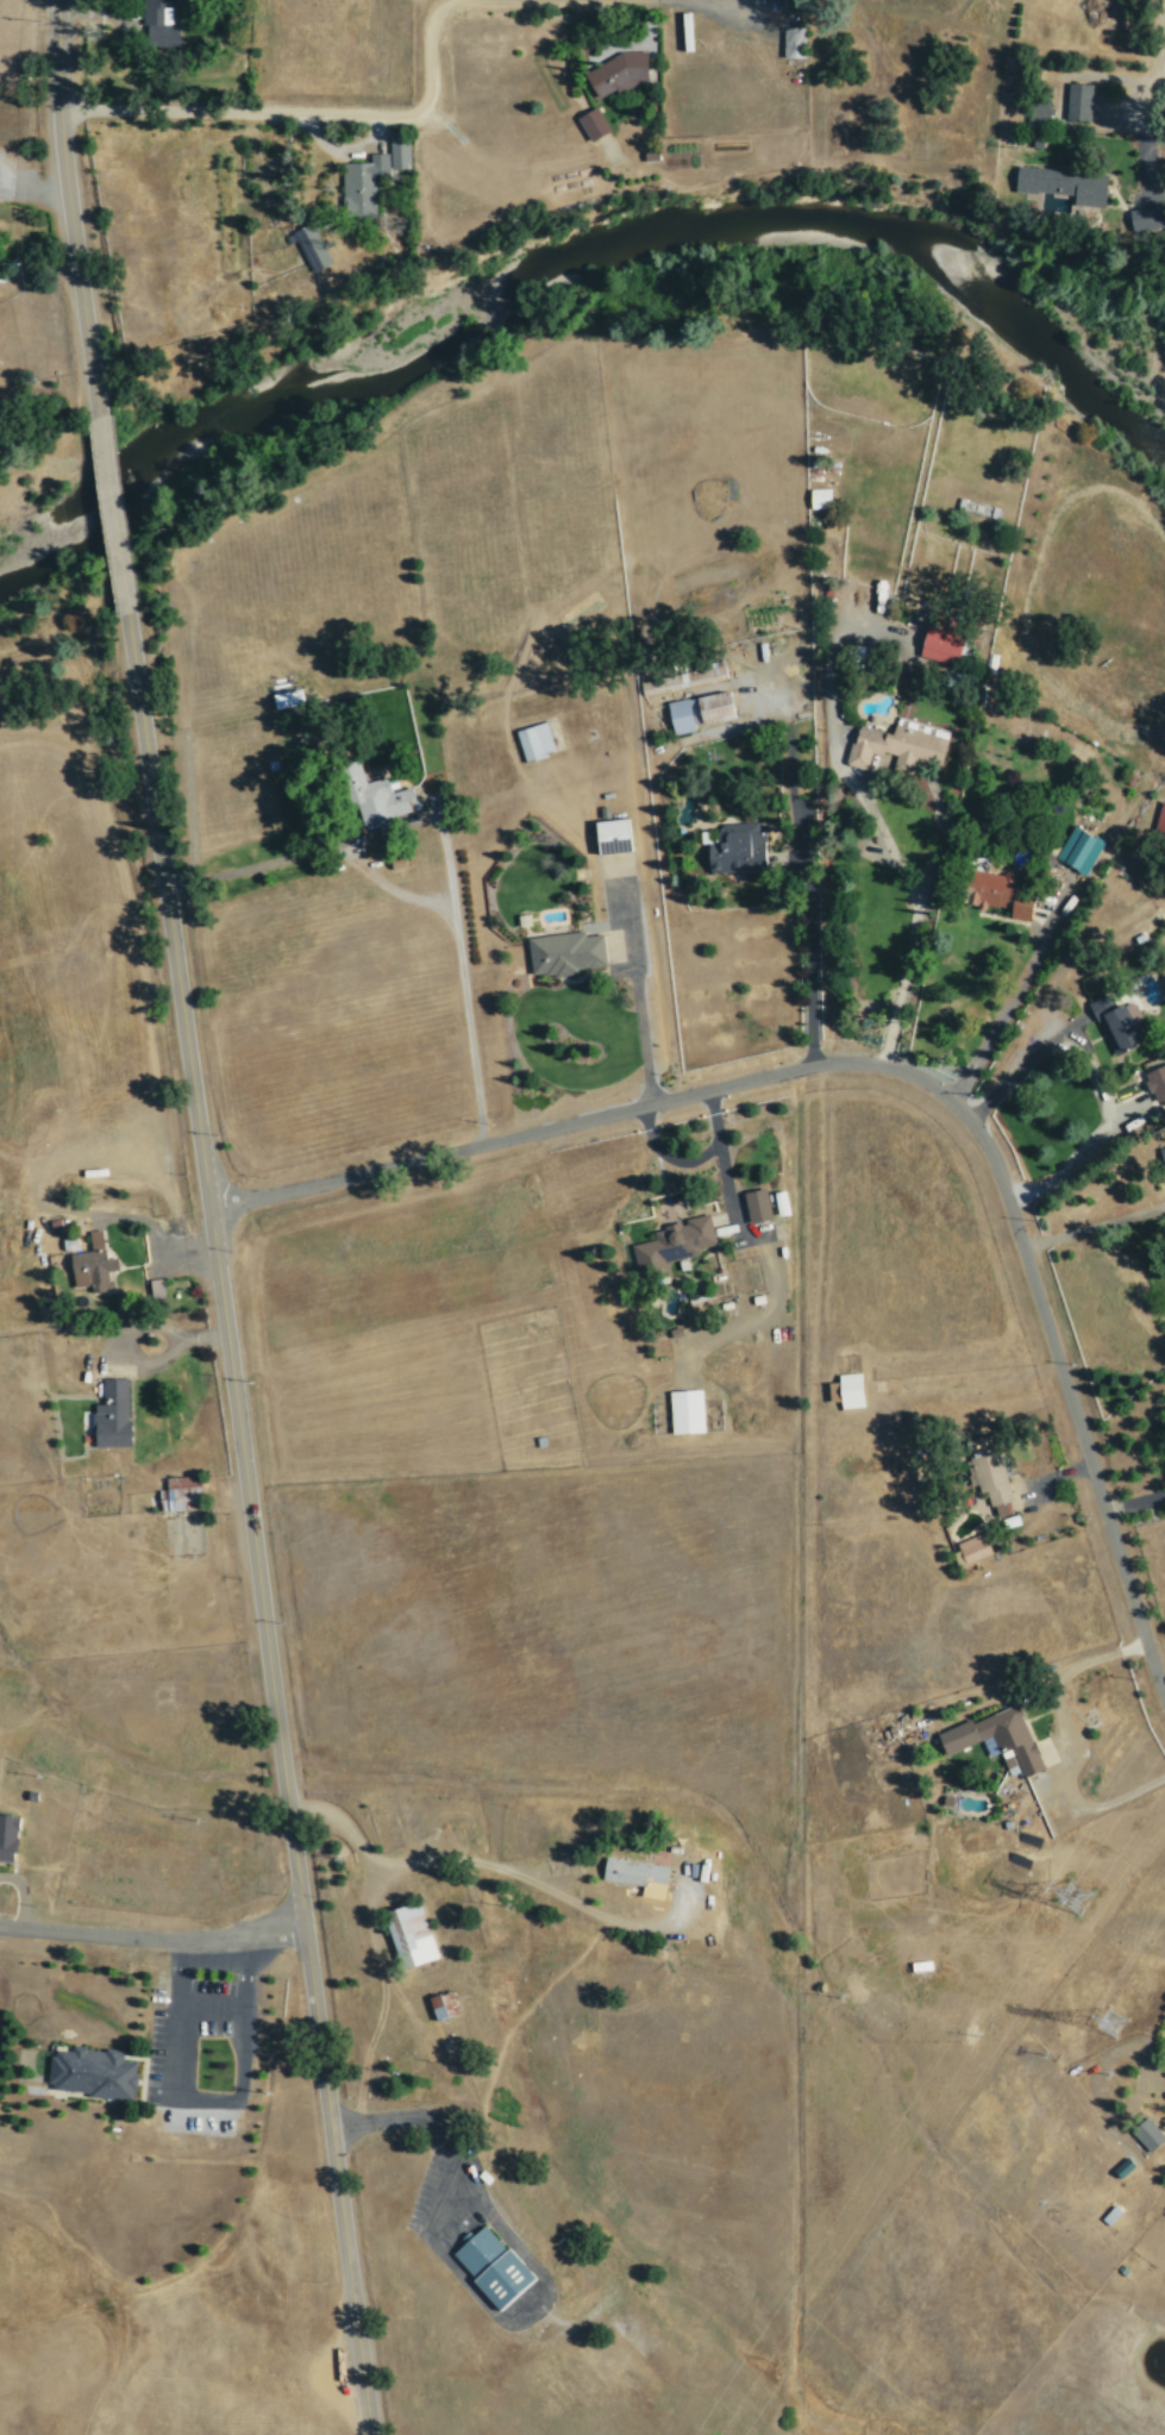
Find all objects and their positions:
building: (158, 24)
building: (793, 42)
building: (618, 74)
building: (1077, 101)
building: (1038, 111)
road: (295, 113)
building: (591, 124)
building: (397, 152)
building: (361, 184)
building: (1063, 184)
road: (67, 207)
building: (311, 248)
river: (541, 268)
river: (1063, 376)
river: (111, 482)
building: (819, 499)
road: (114, 512)
river: (52, 538)
building: (940, 643)
building: (286, 699)
building: (697, 712)
building: (533, 741)
building: (894, 747)
building: (374, 797)
building: (1160, 819)
building: (610, 837)
building: (735, 849)
building: (1077, 850)
building: (996, 894)
building: (563, 953)
building: (1114, 1021)
building: (1155, 1082)
road: (532, 1131)
building: (1163, 1158)
building: (756, 1204)
building: (90, 1265)
road: (1051, 1360)
building: (848, 1389)
building: (685, 1411)
building: (111, 1414)
building: (989, 1473)
building: (178, 1494)
road: (248, 1522)
building: (972, 1547)
building: (995, 1739)
building: (7, 1838)
road: (351, 1844)
building: (632, 1872)
power tower: (1073, 1892)
building: (408, 1934)
road: (152, 1938)
building: (441, 2005)
road: (211, 2007)
power tower: (1108, 2023)
building: (92, 2073)
road: (209, 2099)
building: (1146, 2134)
building: (490, 2267)

